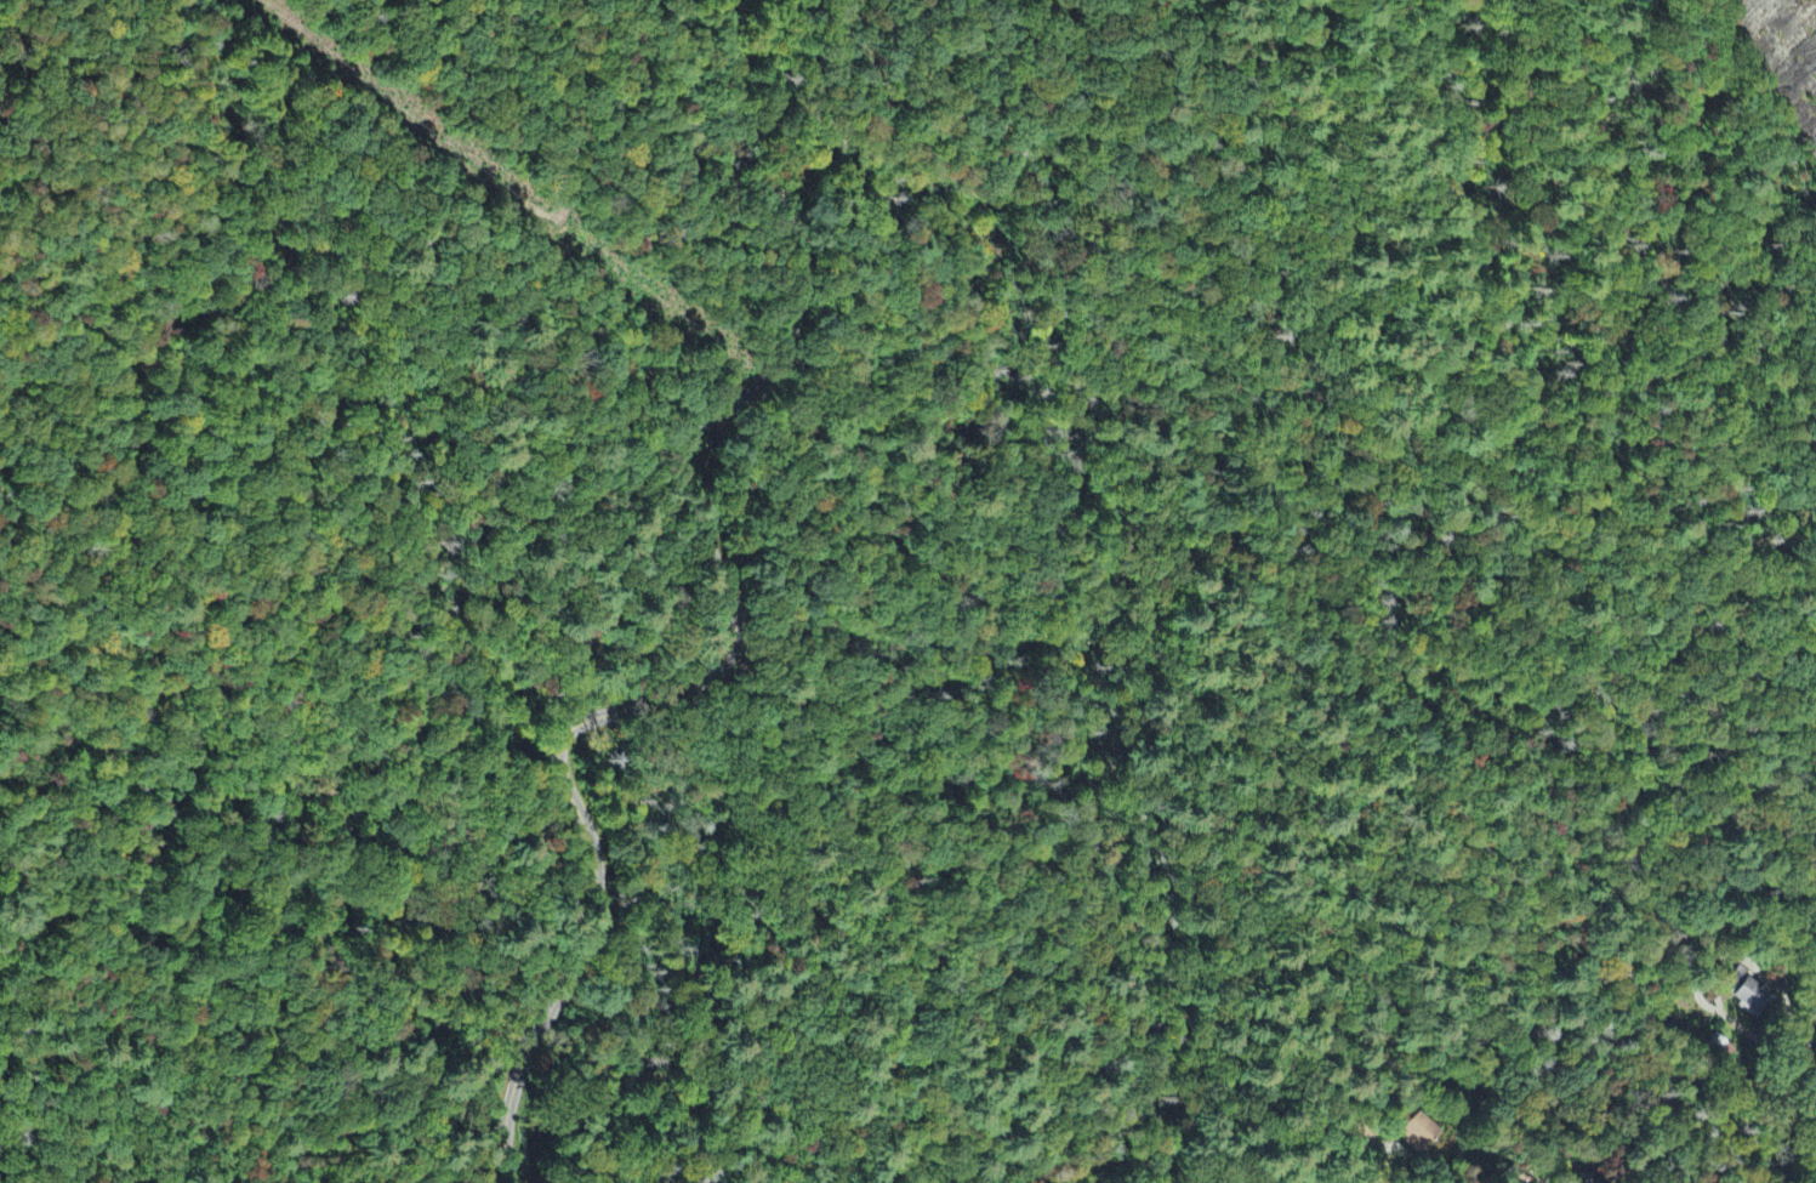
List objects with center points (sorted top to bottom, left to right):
road: (735, 608)
building: (1747, 997)
building: (1416, 1136)
building: (1508, 1182)

